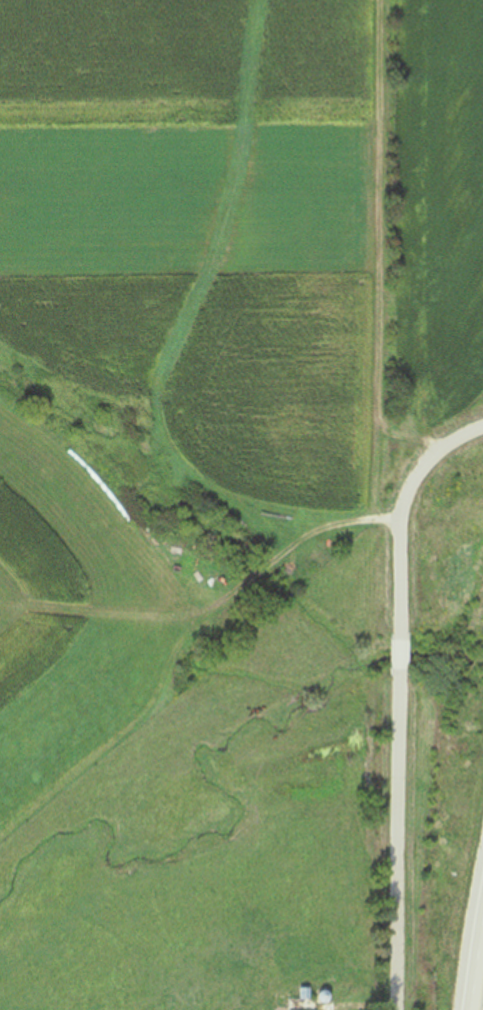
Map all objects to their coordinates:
road: (402, 514)
road: (400, 655)
road: (397, 840)
road: (474, 951)

